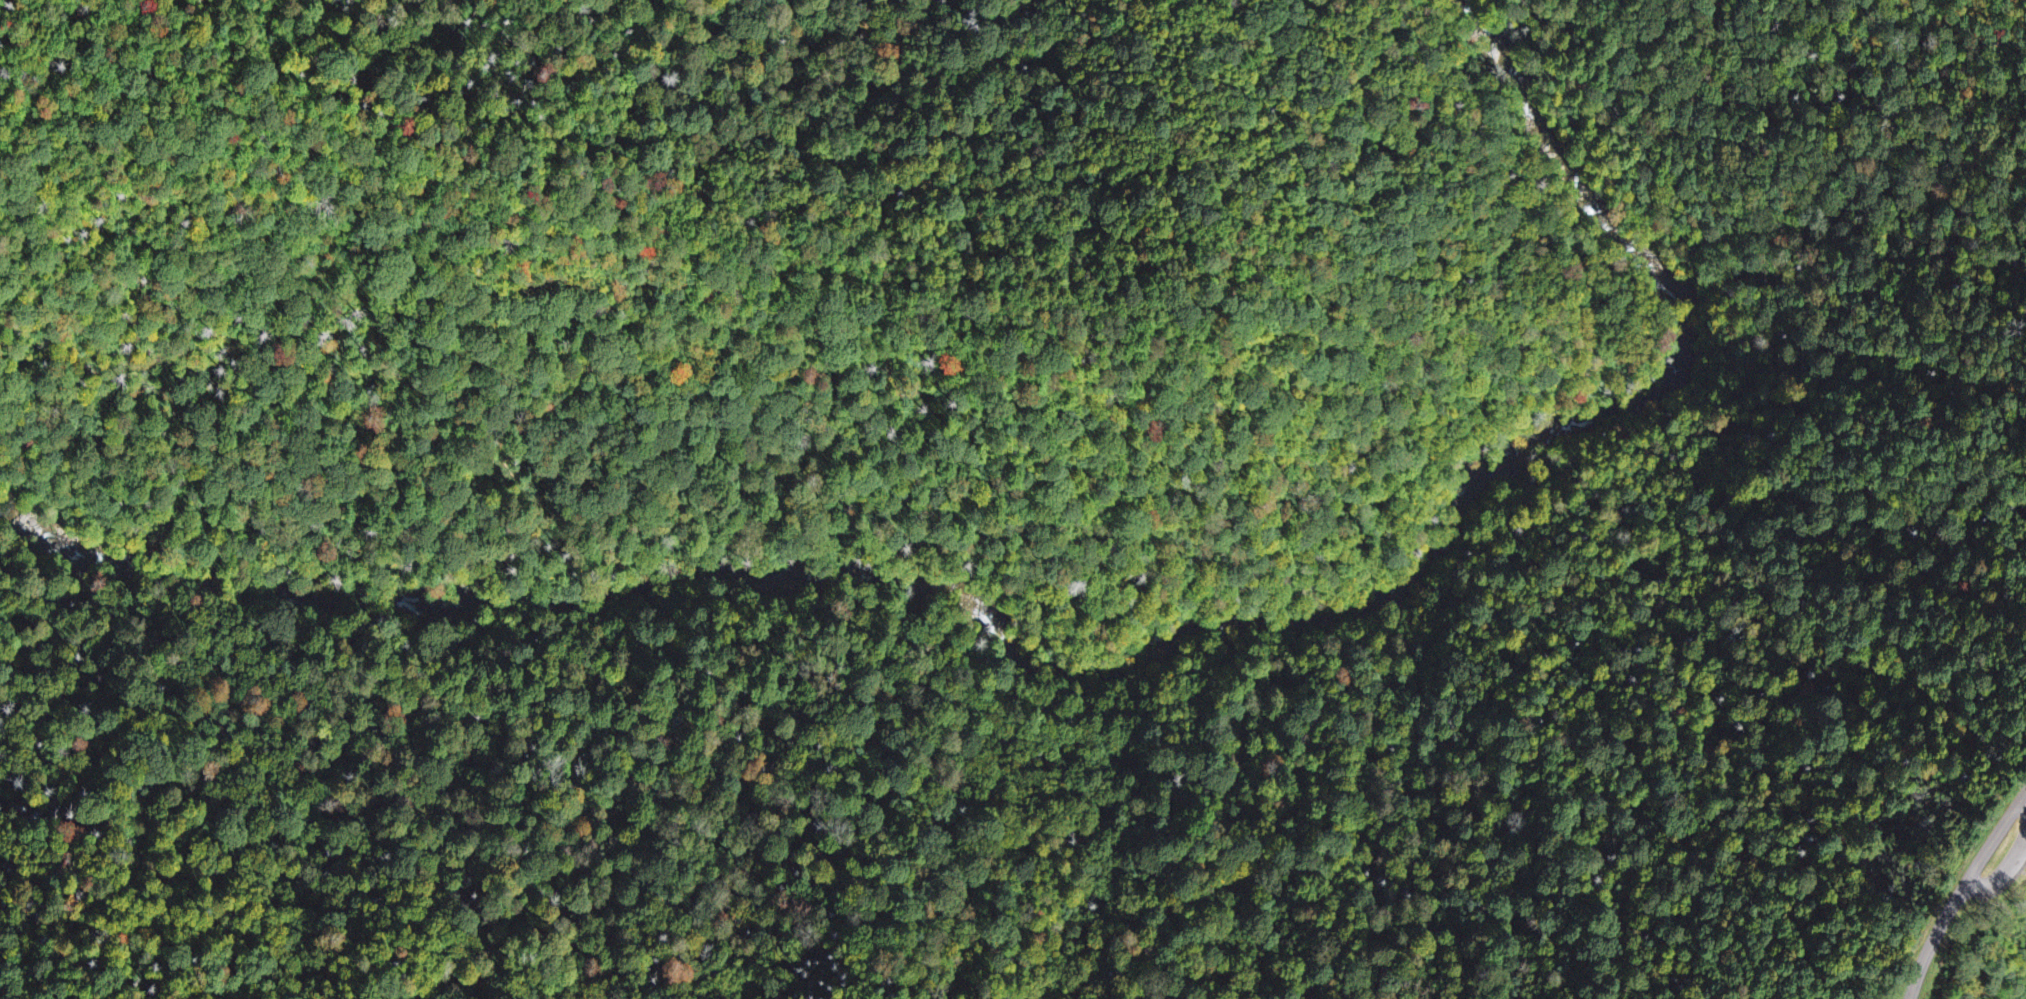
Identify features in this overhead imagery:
river: (1094, 670)
road: (1087, 723)
road: (2023, 804)
road: (2002, 872)
road: (1960, 890)

